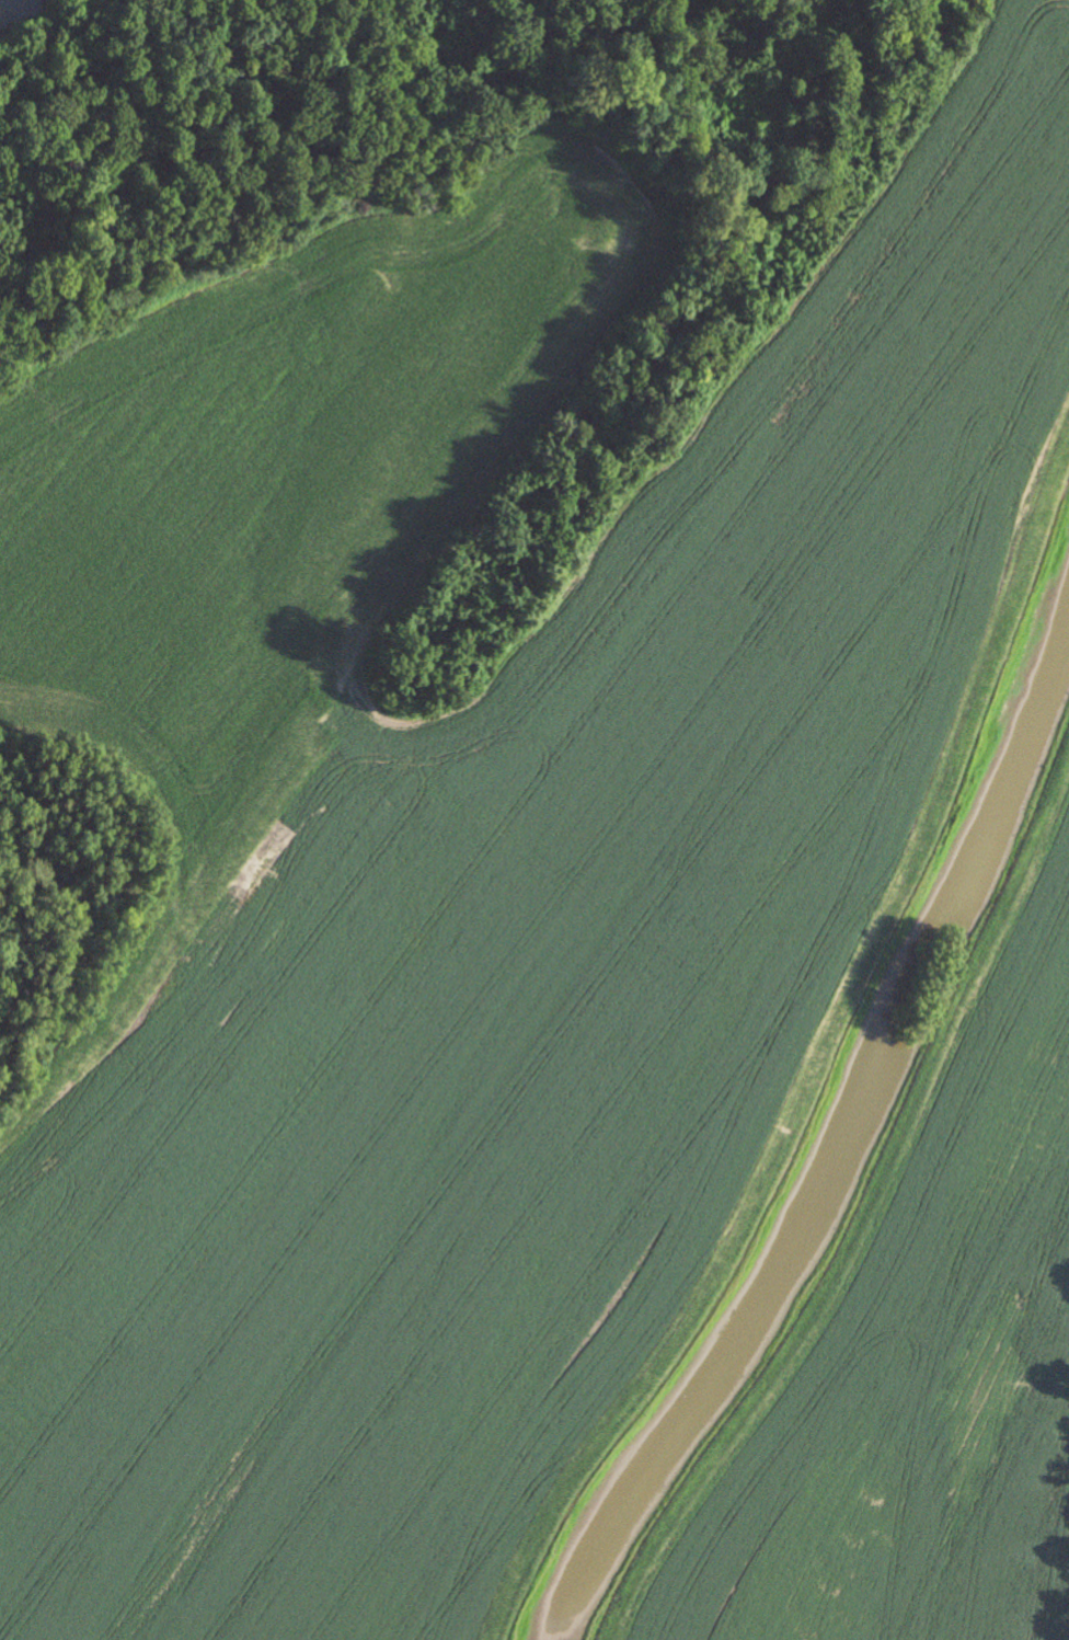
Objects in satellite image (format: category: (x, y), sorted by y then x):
road: (726, 376)

